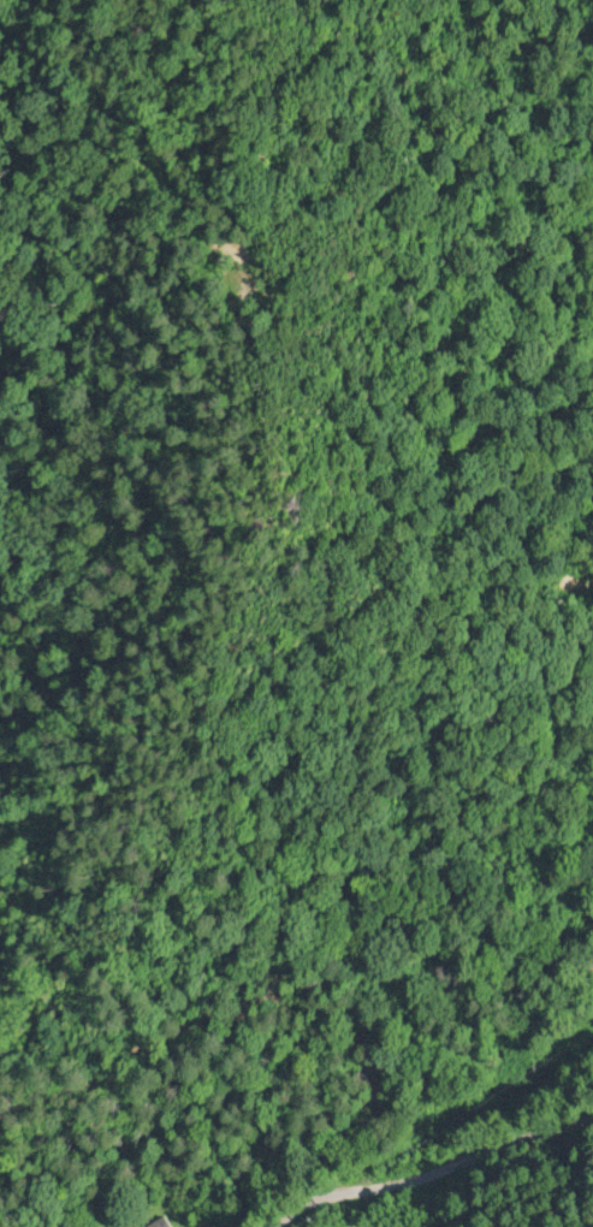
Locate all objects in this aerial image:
road: (429, 1195)

